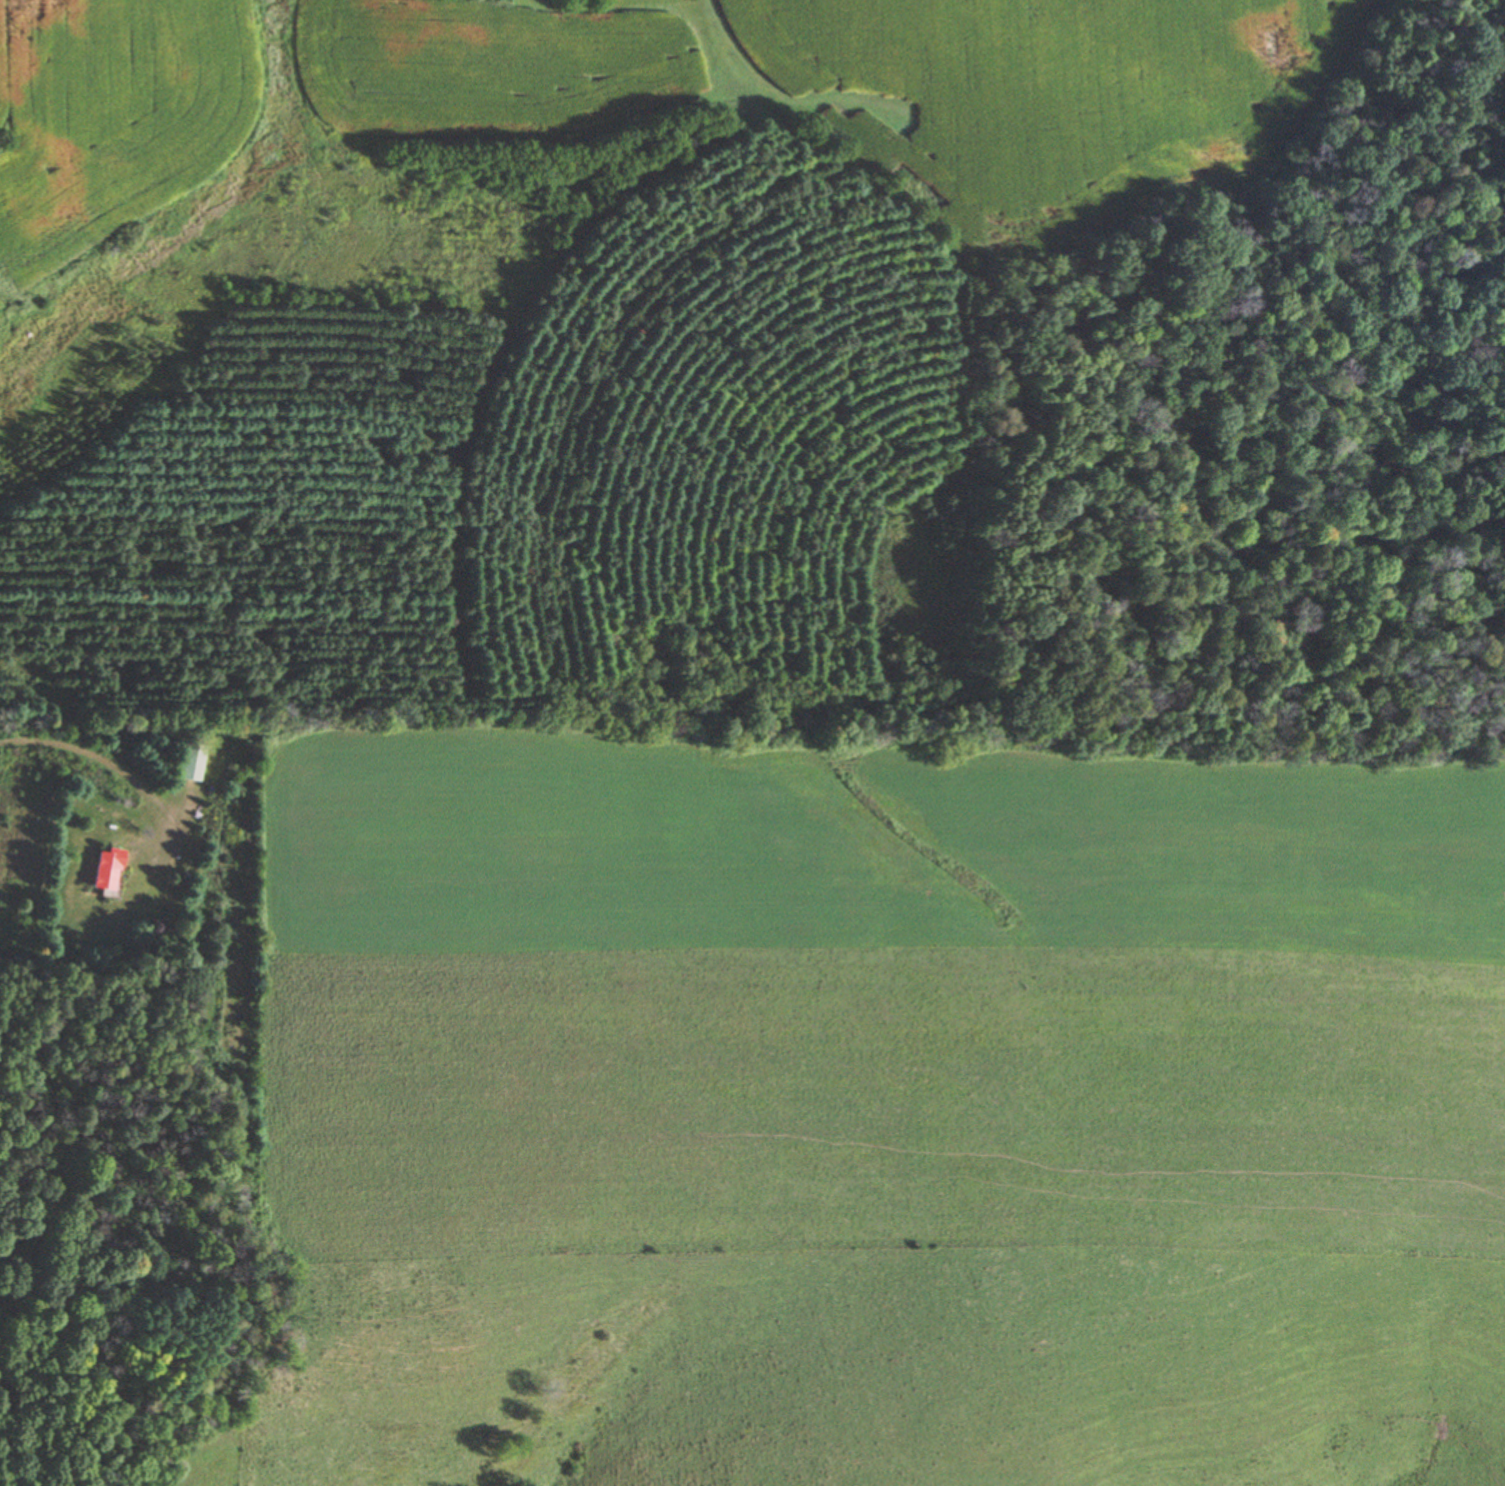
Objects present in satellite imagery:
building: (186, 764)
building: (102, 870)

